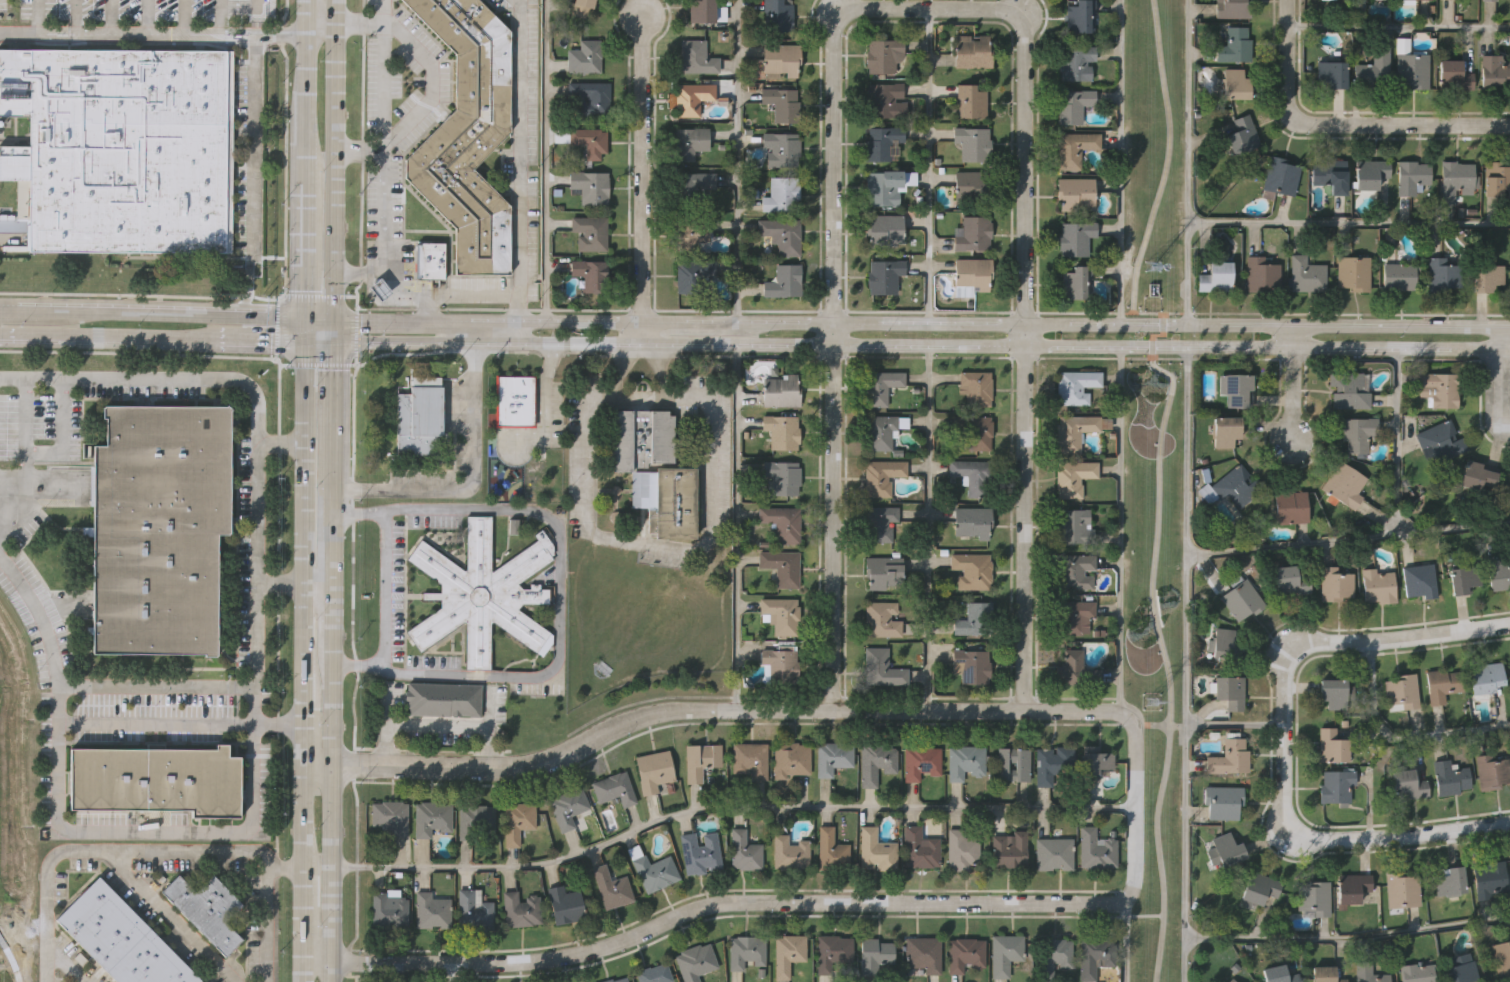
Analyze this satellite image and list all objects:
building: (1414, 0)
building: (1487, 0)
building: (581, 6)
building: (1233, 8)
building: (701, 10)
building: (779, 14)
road: (304, 17)
road: (331, 17)
building: (1080, 17)
road: (72, 18)
road: (110, 18)
road: (146, 18)
road: (36, 19)
road: (1398, 28)
road: (151, 35)
road: (317, 35)
building: (1234, 46)
building: (882, 52)
building: (970, 52)
building: (583, 57)
building: (696, 57)
building: (782, 57)
building: (1075, 64)
building: (1374, 67)
building: (1412, 68)
building: (1330, 71)
building: (1494, 71)
building: (1453, 73)
road: (383, 75)
road: (432, 83)
building: (1236, 84)
building: (692, 97)
building: (590, 98)
building: (883, 98)
building: (970, 99)
building: (783, 102)
building: (1073, 104)
road: (1343, 124)
building: (1243, 133)
building: (467, 135)
building: (589, 140)
building: (690, 141)
building: (881, 141)
building: (972, 141)
building: (121, 144)
building: (782, 146)
building: (1074, 146)
road: (518, 160)
road: (544, 160)
road: (739, 161)
road: (1120, 161)
road: (1189, 162)
road: (931, 166)
road: (1165, 172)
building: (1371, 172)
building: (1329, 174)
road: (641, 175)
building: (1458, 175)
building: (1278, 176)
building: (1412, 176)
road: (253, 177)
building: (1497, 177)
road: (302, 178)
road: (330, 178)
building: (973, 184)
building: (590, 185)
building: (887, 185)
building: (692, 186)
building: (1076, 191)
building: (780, 193)
road: (1350, 222)
building: (883, 227)
building: (691, 230)
building: (589, 233)
building: (971, 233)
building: (781, 235)
building: (1076, 236)
road: (385, 245)
building: (431, 260)
power tower: (1152, 267)
road: (358, 272)
building: (1353, 272)
building: (973, 273)
building: (1261, 273)
building: (1444, 273)
road: (827, 274)
building: (590, 275)
building: (696, 275)
building: (883, 275)
building: (1304, 275)
building: (1398, 276)
building: (1215, 277)
building: (1486, 277)
building: (1076, 280)
building: (784, 281)
building: (377, 290)
road: (465, 293)
road: (21, 312)
road: (172, 316)
traffic signals: (301, 321)
road: (315, 321)
traffic signals: (329, 321)
road: (919, 323)
road: (301, 331)
road: (329, 332)
road: (470, 332)
road: (31, 337)
road: (140, 339)
road: (259, 341)
traffic signals: (301, 342)
road: (315, 342)
traffic signals: (329, 343)
road: (919, 345)
road: (1024, 359)
road: (178, 378)
road: (1292, 381)
building: (880, 386)
building: (1075, 386)
building: (977, 388)
building: (1347, 388)
building: (1235, 389)
building: (1439, 389)
building: (782, 390)
building: (517, 399)
building: (418, 418)
building: (784, 429)
building: (1073, 431)
building: (1223, 431)
building: (1358, 431)
building: (882, 432)
building: (972, 432)
building: (639, 434)
road: (1398, 440)
building: (1439, 440)
building: (973, 475)
building: (881, 476)
building: (1477, 476)
building: (1071, 477)
building: (782, 478)
road: (466, 481)
building: (1345, 484)
building: (1229, 486)
building: (517, 488)
building: (666, 502)
building: (1289, 506)
building: (973, 521)
building: (878, 523)
building: (782, 524)
building: (158, 527)
road: (739, 527)
building: (1073, 527)
road: (929, 528)
road: (1122, 529)
road: (257, 538)
road: (1349, 540)
road: (657, 545)
road: (303, 555)
road: (326, 556)
building: (780, 567)
building: (972, 570)
building: (1072, 571)
building: (1497, 571)
building: (884, 572)
building: (1466, 579)
building: (1291, 581)
building: (1421, 582)
building: (1336, 585)
building: (1380, 586)
road: (384, 587)
road: (314, 590)
building: (483, 592)
road: (562, 594)
building: (1241, 599)
building: (779, 616)
building: (1071, 616)
road: (38, 617)
building: (881, 619)
building: (976, 619)
road: (255, 636)
road: (1160, 639)
building: (1224, 641)
road: (1187, 664)
building: (780, 665)
building: (972, 666)
building: (1509, 667)
building: (880, 669)
building: (1076, 670)
building: (1483, 677)
building: (1441, 684)
road: (242, 686)
building: (1229, 692)
building: (1400, 692)
building: (1335, 694)
building: (443, 700)
power tower: (1154, 702)
road: (803, 709)
road: (435, 721)
road: (1235, 725)
road: (1399, 737)
road: (1283, 739)
building: (1331, 745)
building: (1229, 756)
building: (833, 757)
building: (702, 758)
building: (751, 758)
building: (792, 758)
building: (966, 761)
building: (1097, 761)
building: (877, 762)
building: (921, 762)
building: (1012, 763)
building: (1054, 763)
road: (313, 769)
building: (655, 769)
building: (1492, 772)
building: (154, 779)
building: (1450, 779)
building: (1407, 784)
building: (1337, 785)
road: (1371, 785)
building: (616, 788)
building: (1223, 800)
building: (570, 805)
road: (724, 808)
building: (391, 816)
building: (434, 816)
building: (477, 819)
building: (520, 820)
building: (919, 847)
building: (1226, 848)
building: (832, 849)
building: (960, 849)
building: (1010, 849)
building: (744, 850)
building: (877, 850)
building: (1097, 850)
road: (157, 851)
building: (700, 852)
building: (789, 852)
building: (1055, 852)
road: (301, 863)
road: (325, 864)
road: (284, 867)
building: (653, 870)
building: (1490, 877)
building: (1451, 880)
building: (1261, 886)
building: (610, 887)
building: (1353, 887)
building: (1403, 888)
building: (1315, 897)
building: (567, 902)
road: (717, 903)
building: (207, 908)
building: (523, 908)
building: (387, 910)
building: (433, 911)
building: (475, 912)
road: (170, 916)
building: (122, 938)
road: (1127, 940)
road: (1348, 940)
building: (747, 950)
building: (833, 950)
building: (789, 952)
building: (924, 953)
building: (964, 953)
building: (1004, 953)
building: (872, 954)
building: (1096, 954)
building: (1053, 955)
building: (1501, 956)
building: (695, 962)
road: (61, 965)
road: (299, 970)
road: (325, 970)
building: (1462, 971)
building: (1368, 973)
building: (1417, 973)
building: (653, 974)
building: (1278, 974)
building: (1325, 974)
building: (1230, 979)
building: (615, 980)

